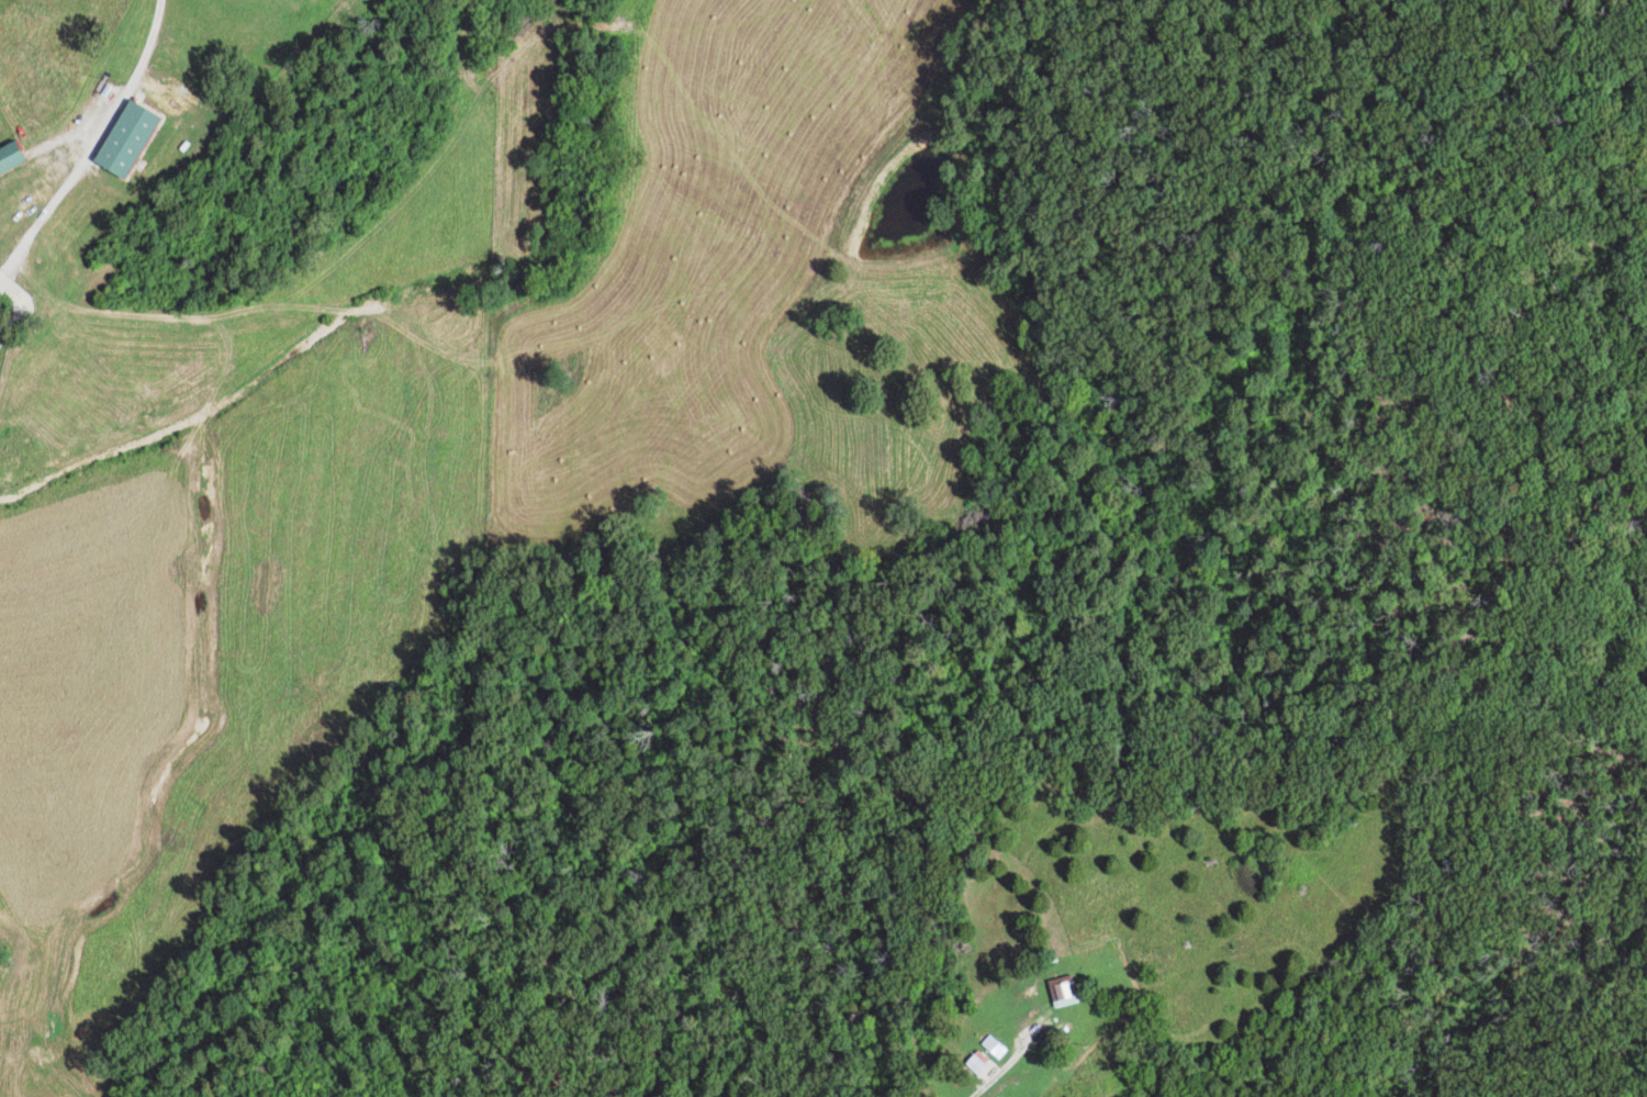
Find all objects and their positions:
building: (135, 141)
road: (91, 146)
building: (14, 160)
building: (2, 349)
building: (1060, 995)

